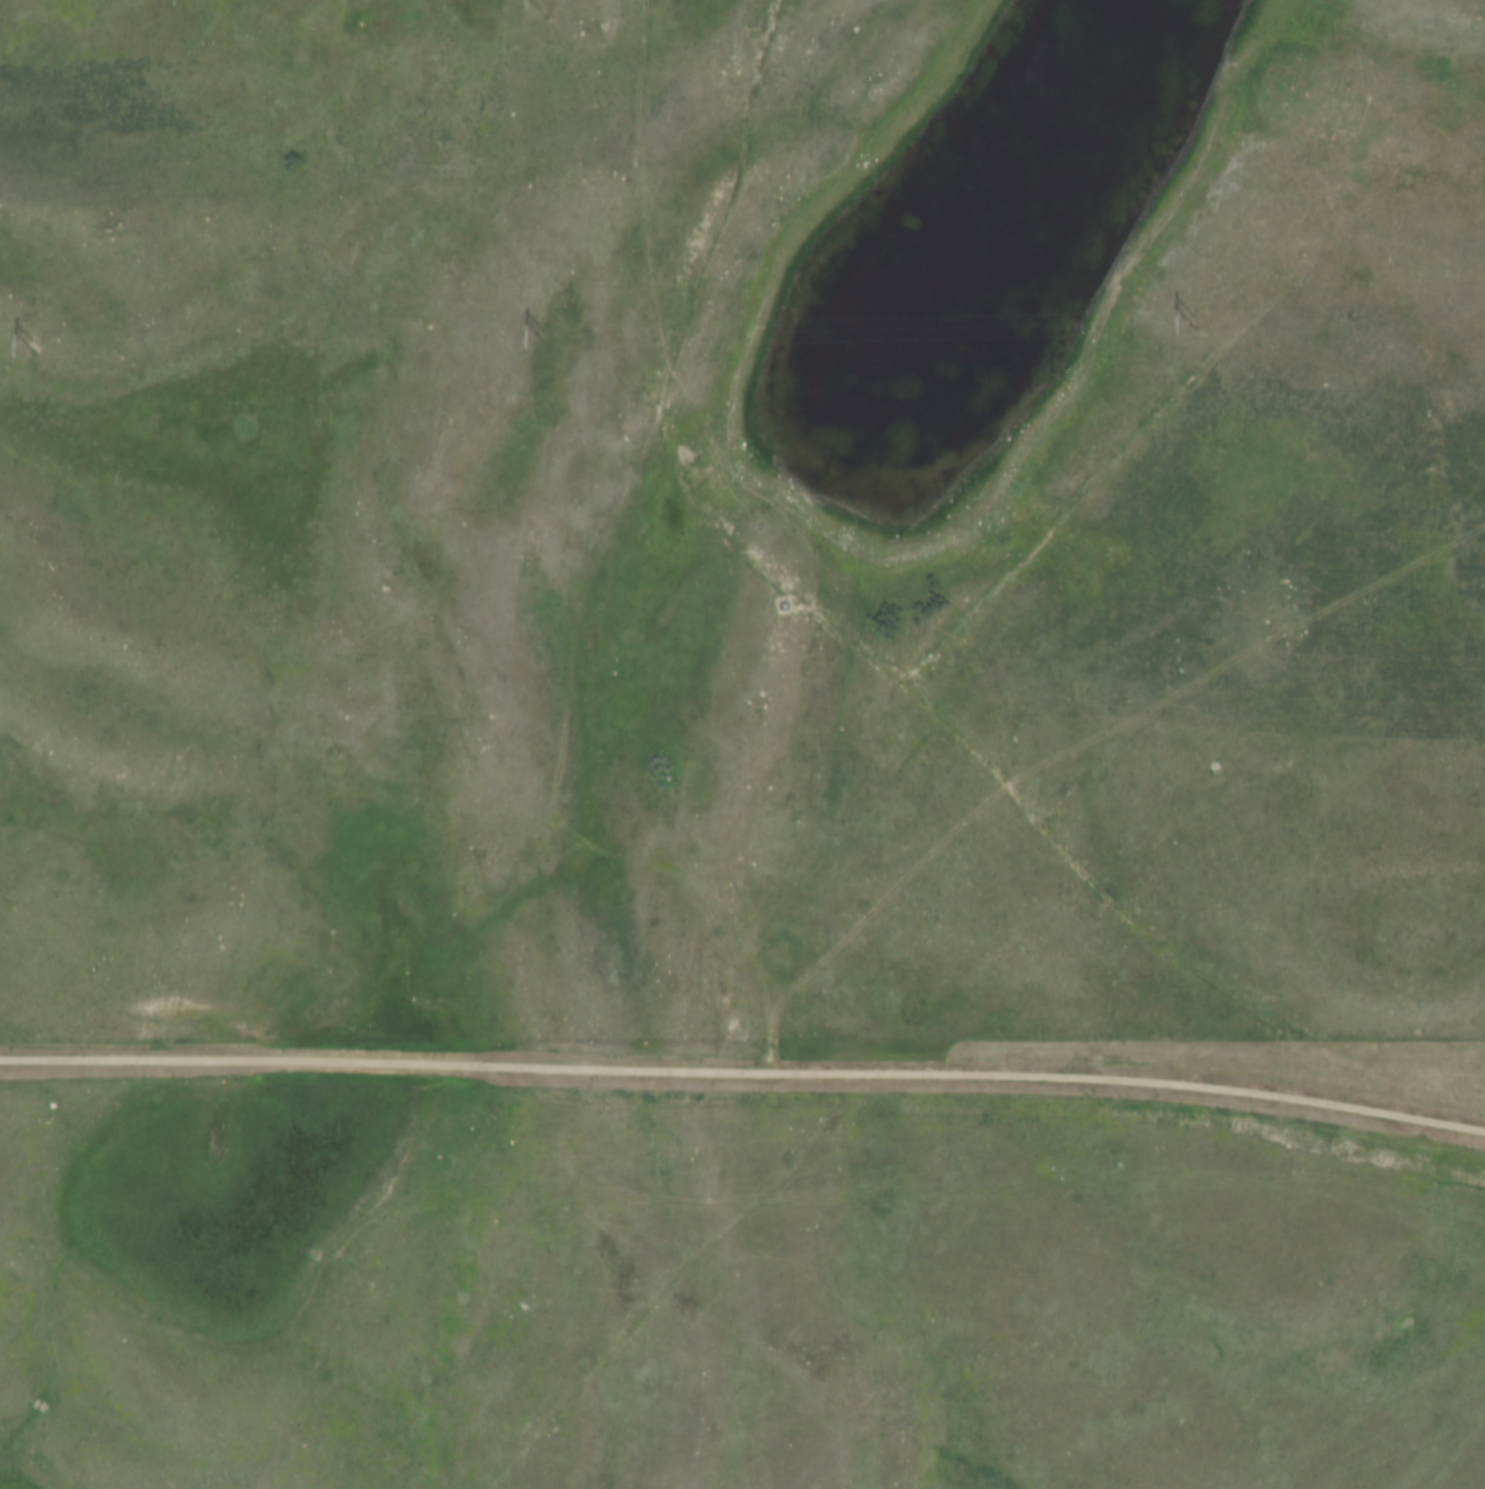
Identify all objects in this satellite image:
road: (744, 1074)

